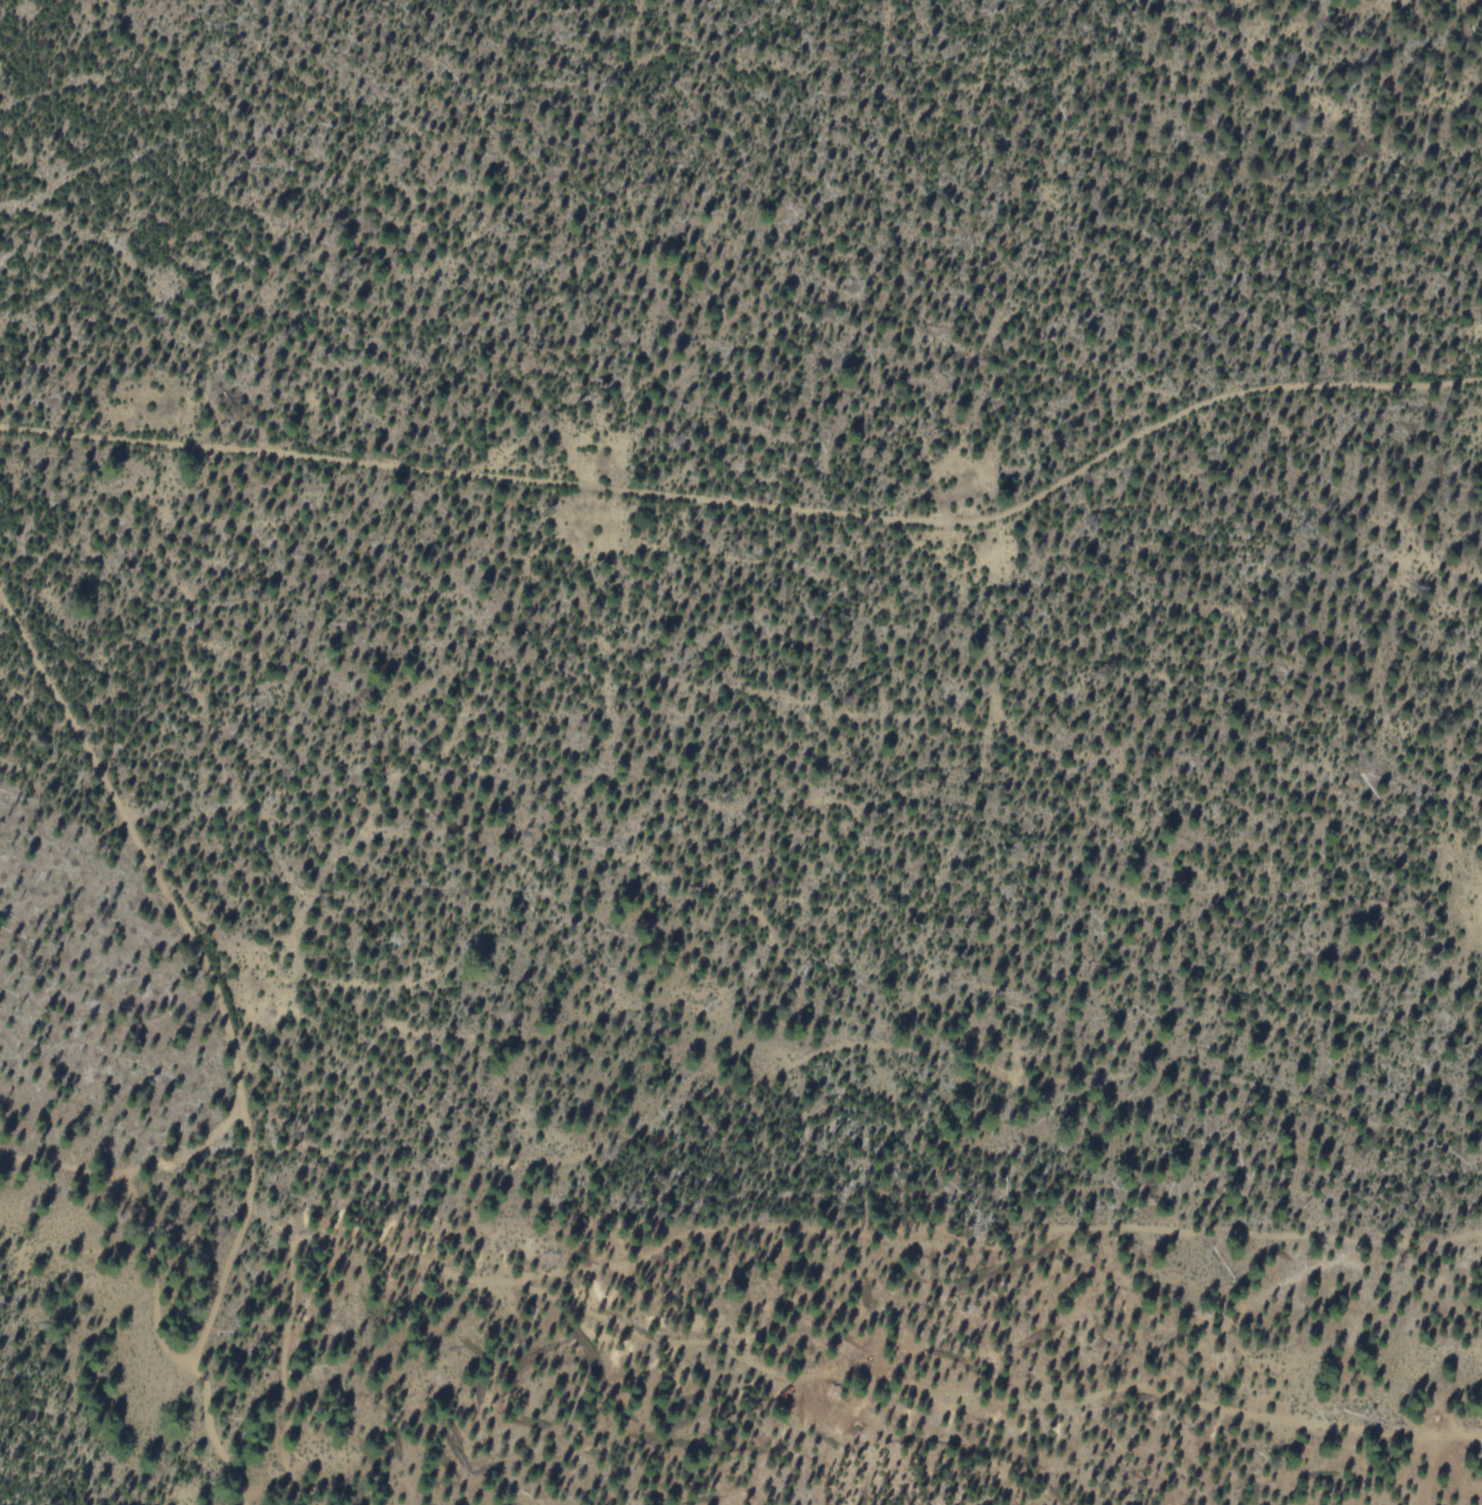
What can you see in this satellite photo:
road: (756, 505)
road: (131, 806)
road: (899, 1234)

